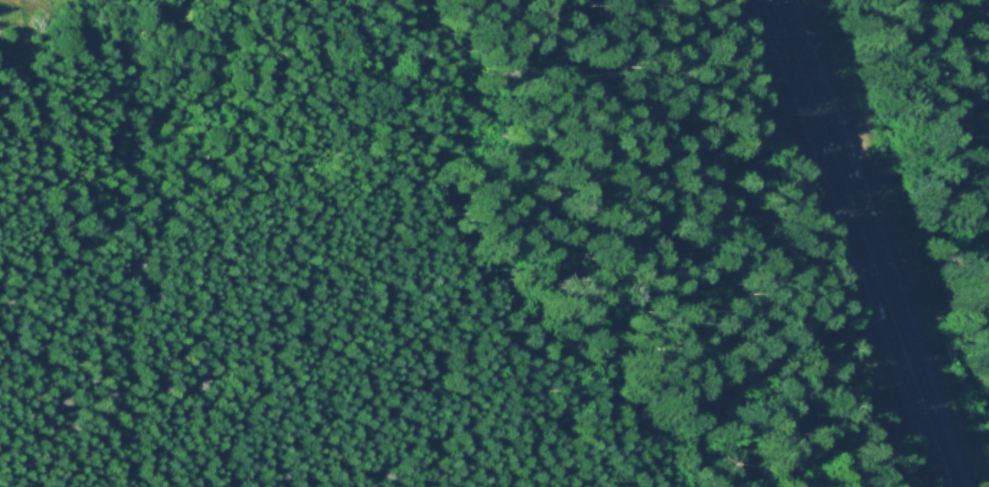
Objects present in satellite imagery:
road: (302, 6)
road: (3, 9)
road: (398, 58)
road: (38, 114)
road: (832, 147)
road: (918, 391)

